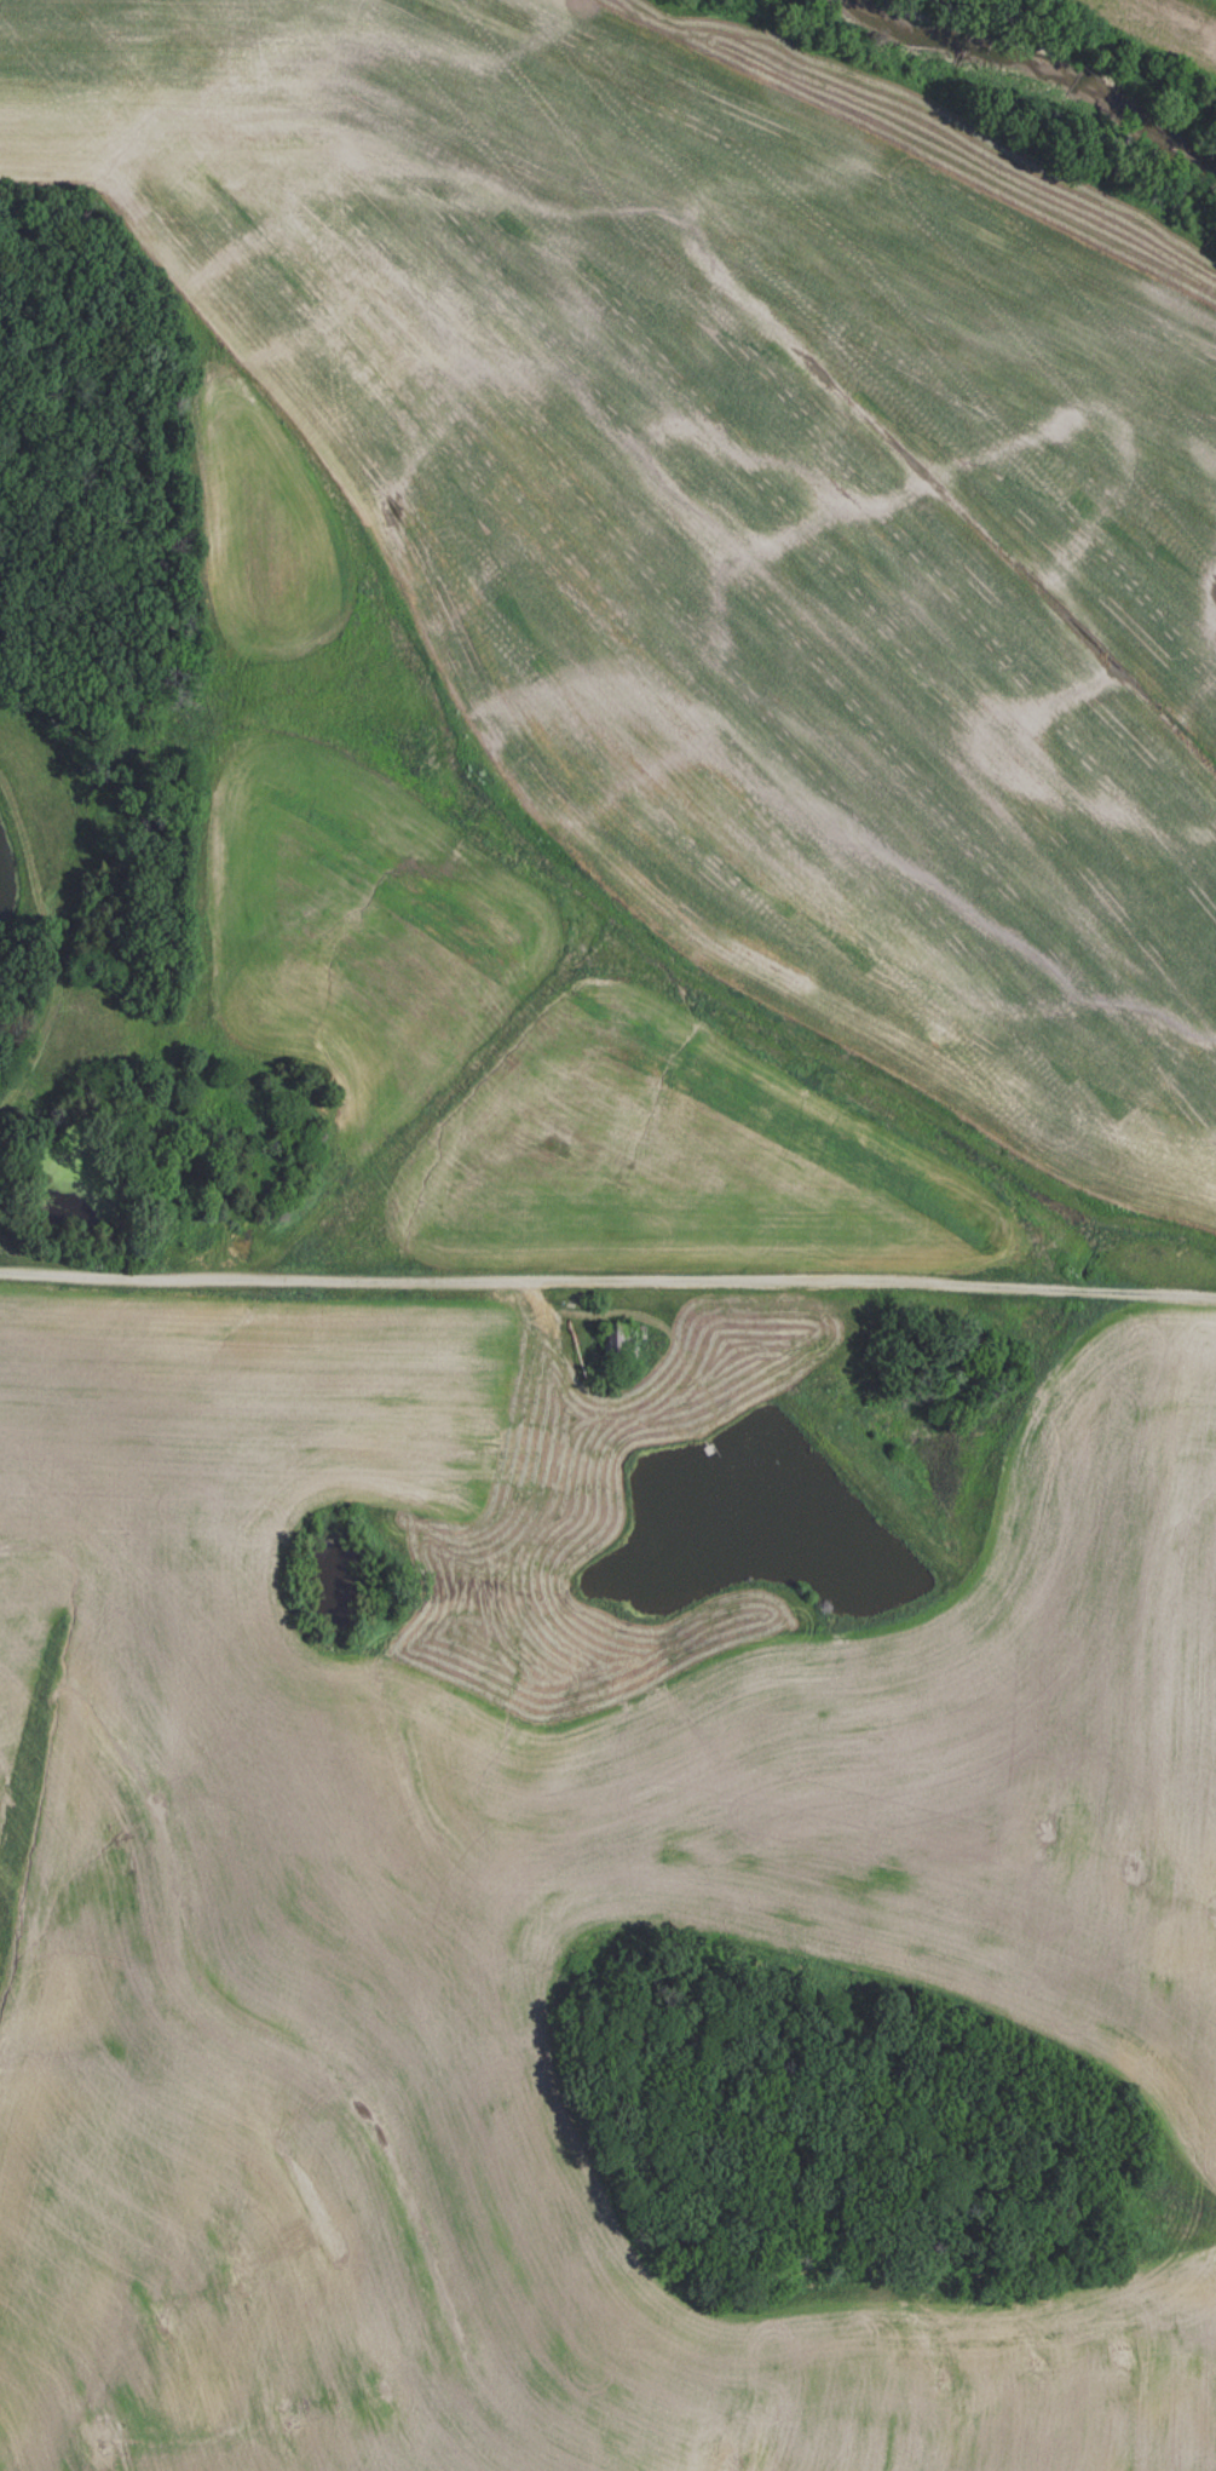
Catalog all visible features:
road: (607, 1280)

